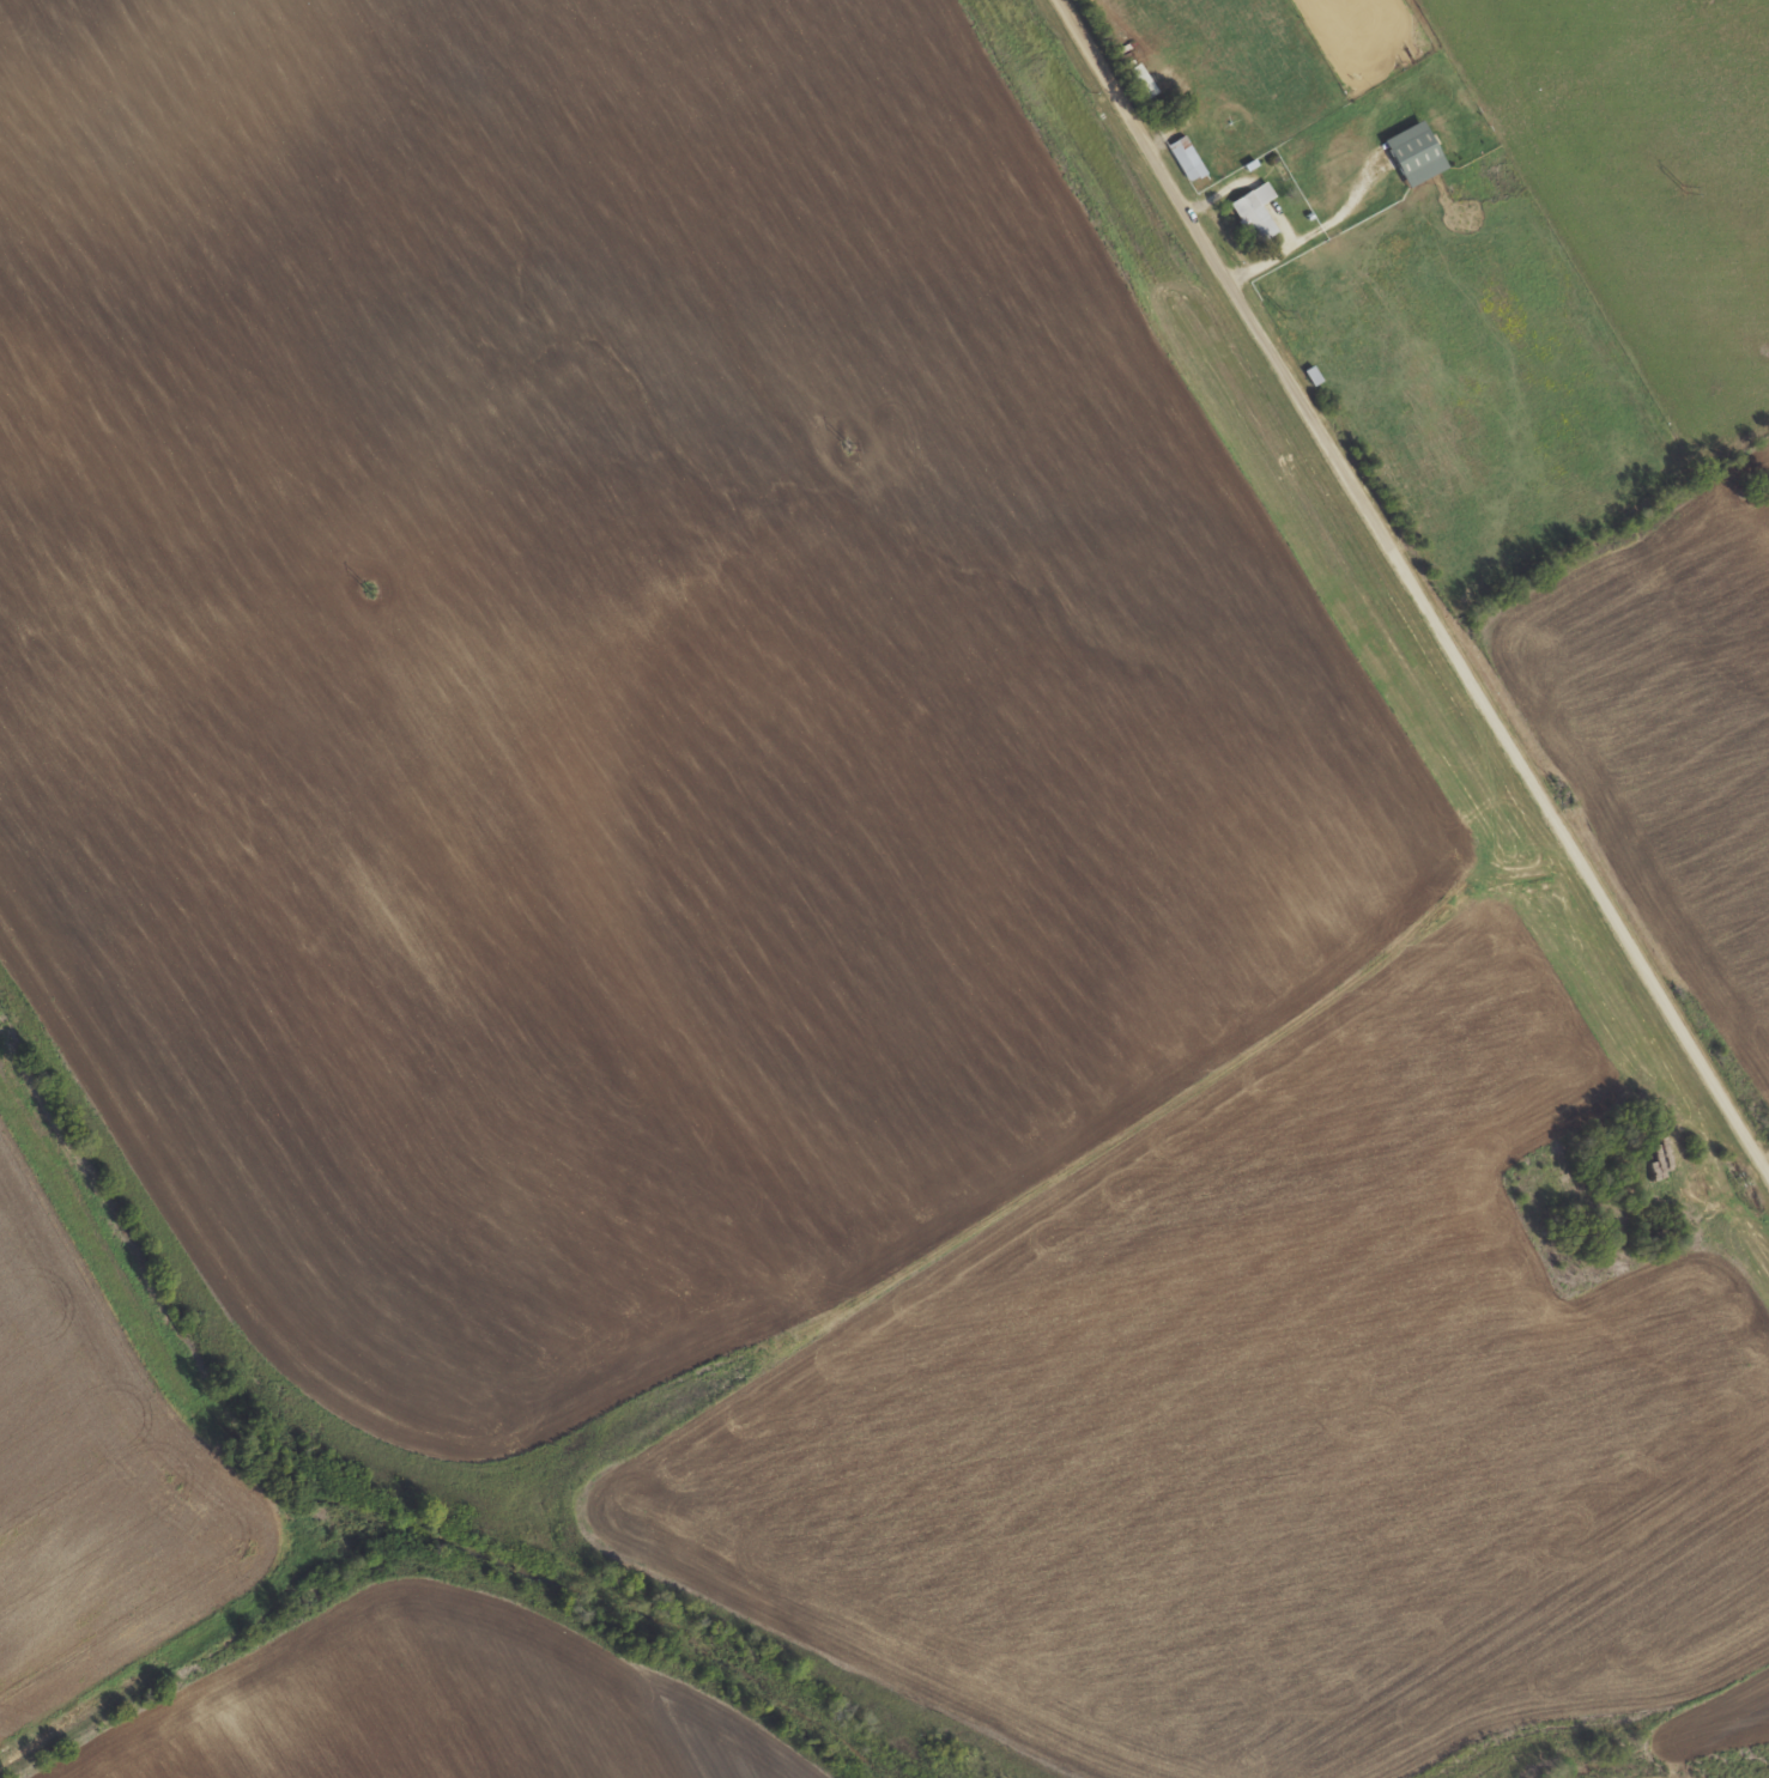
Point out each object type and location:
building: (1139, 81)
building: (1413, 153)
building: (1188, 159)
power tower: (1688, 186)
building: (1255, 212)
power tower: (1285, 312)
power tower: (850, 445)
road: (1414, 579)
power tower: (372, 585)

